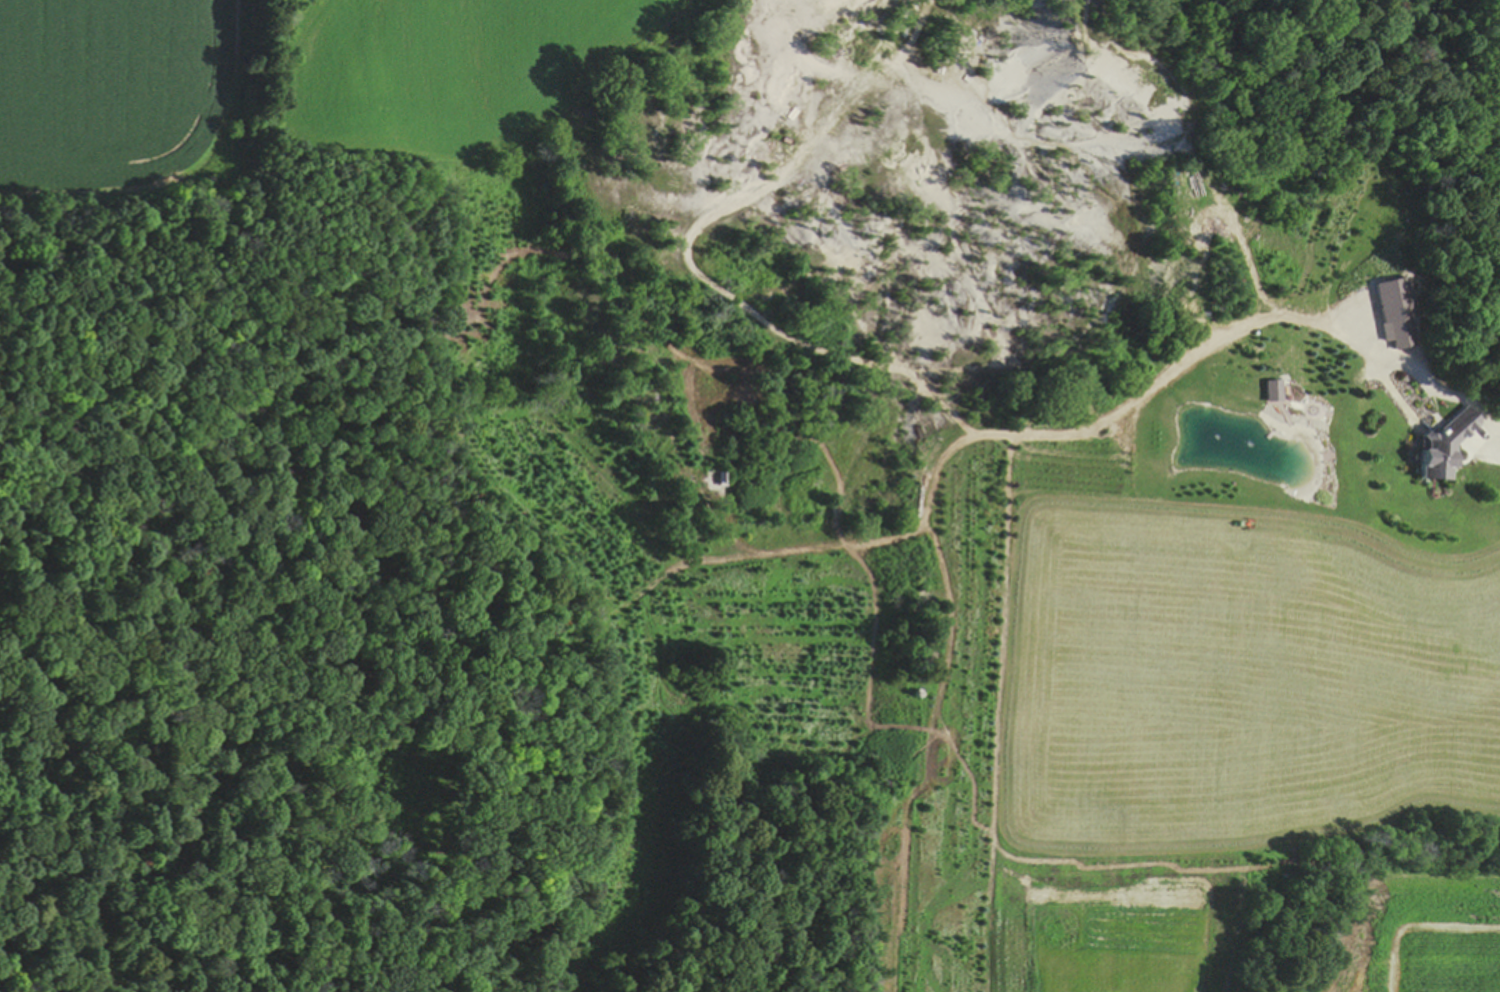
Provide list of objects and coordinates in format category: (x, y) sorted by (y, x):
building: (1446, 446)

